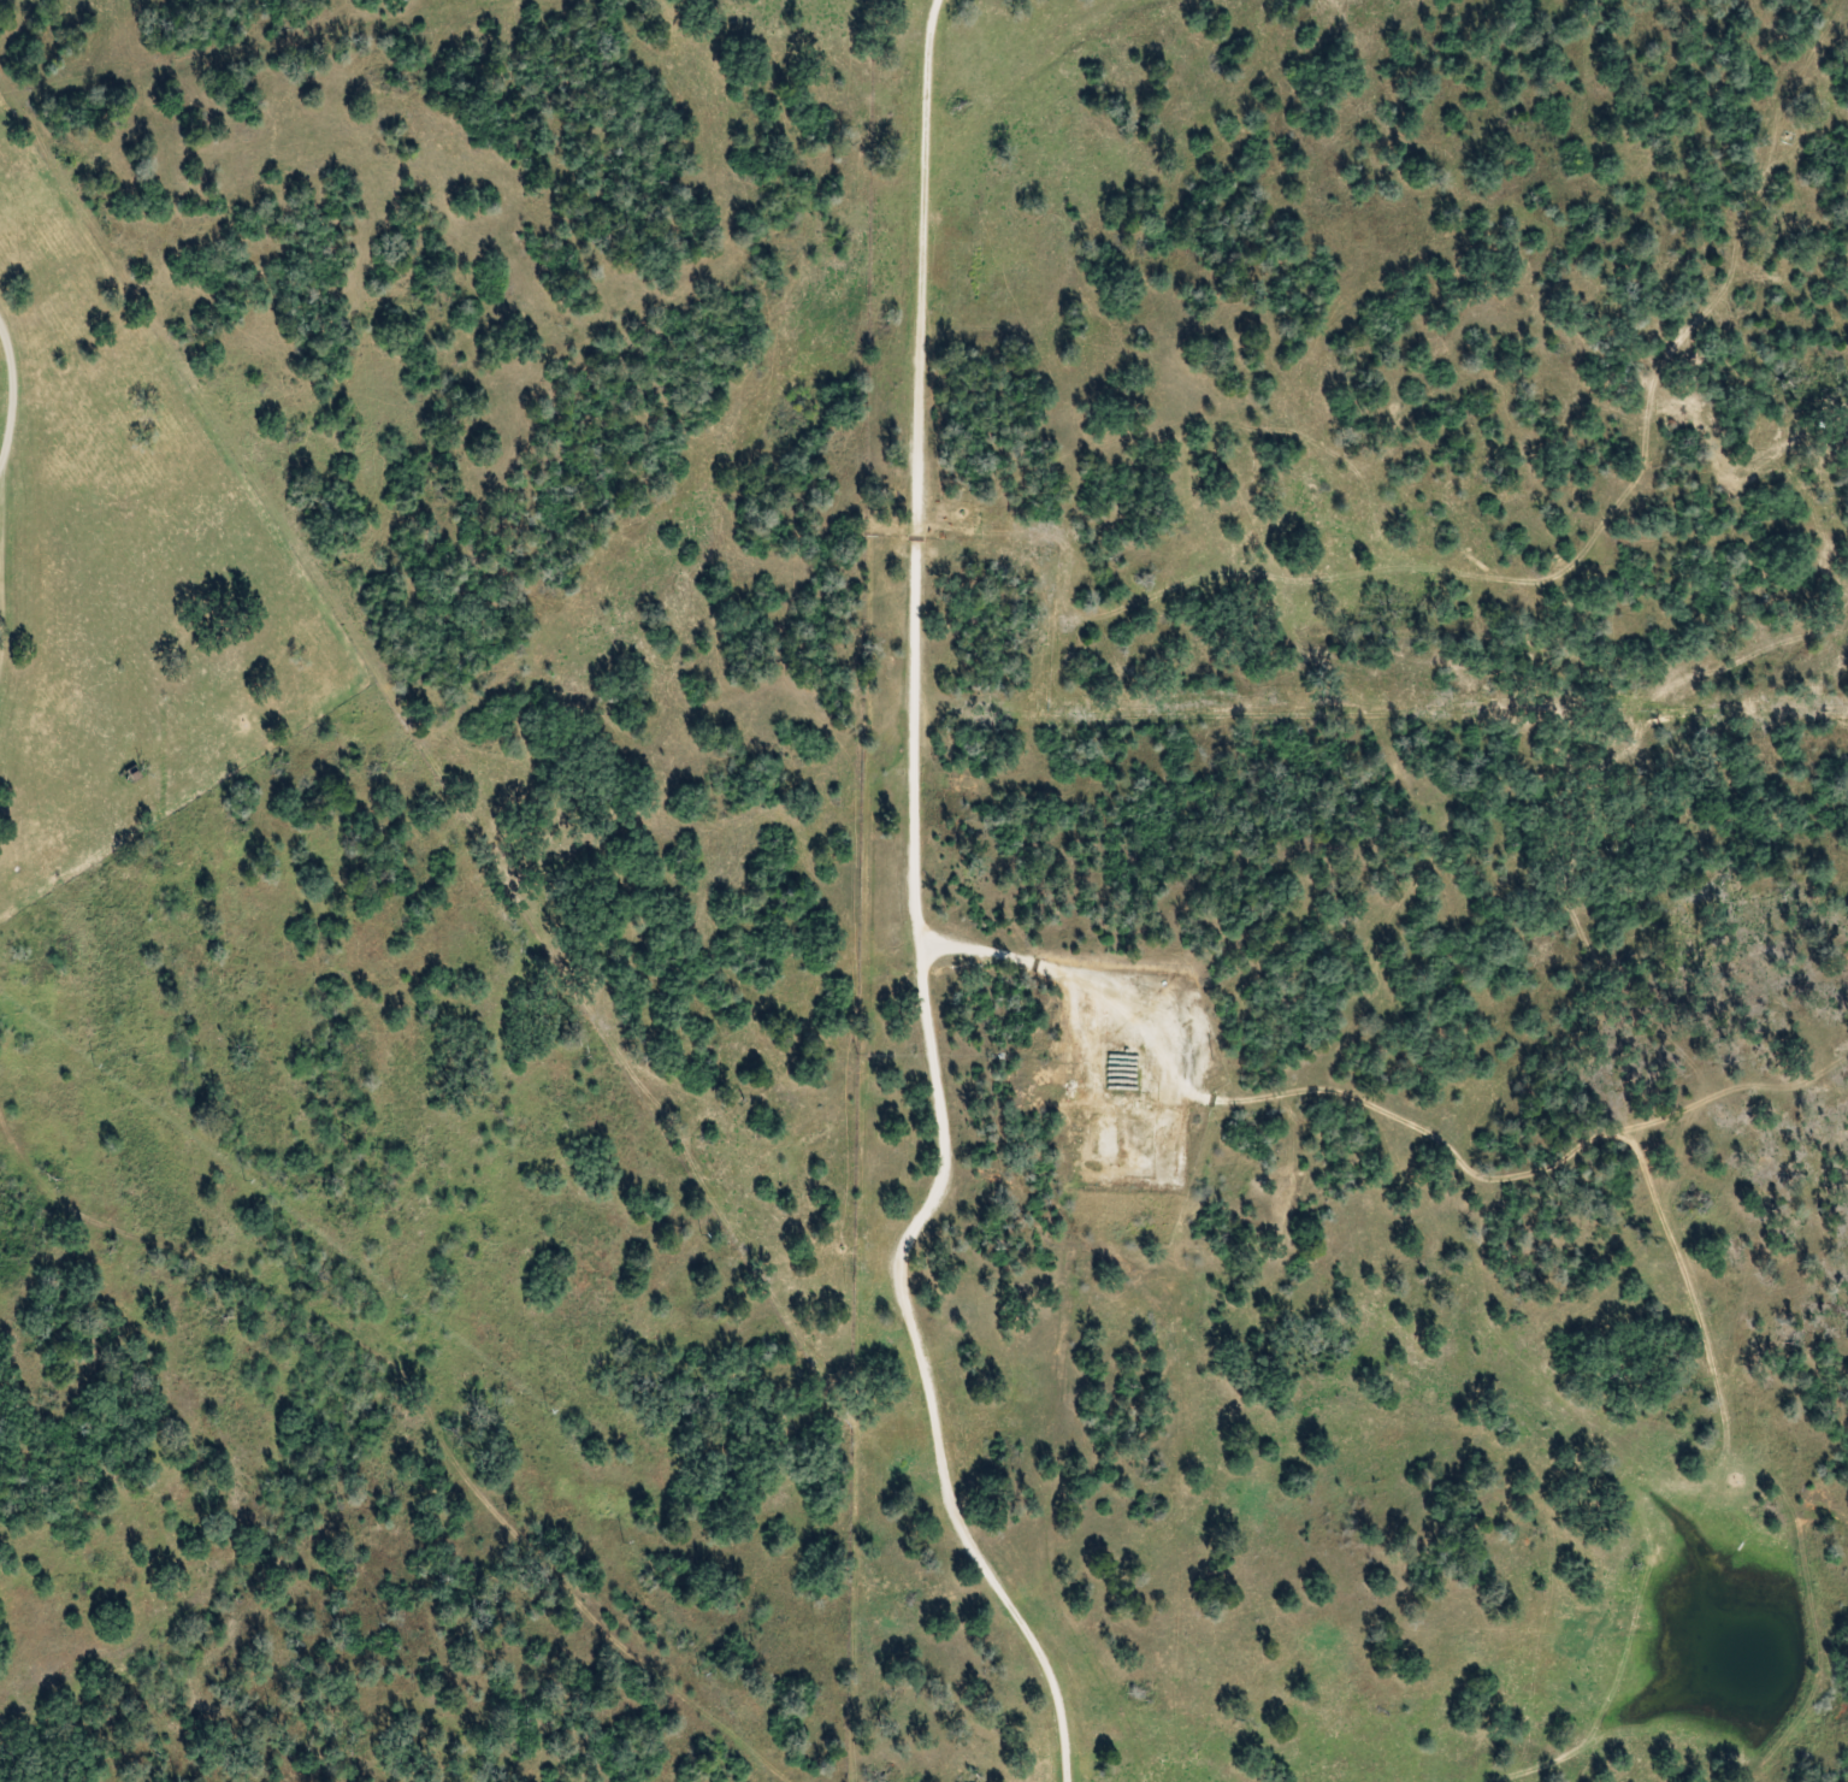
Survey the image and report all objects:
road: (5, 508)
road: (459, 1386)

